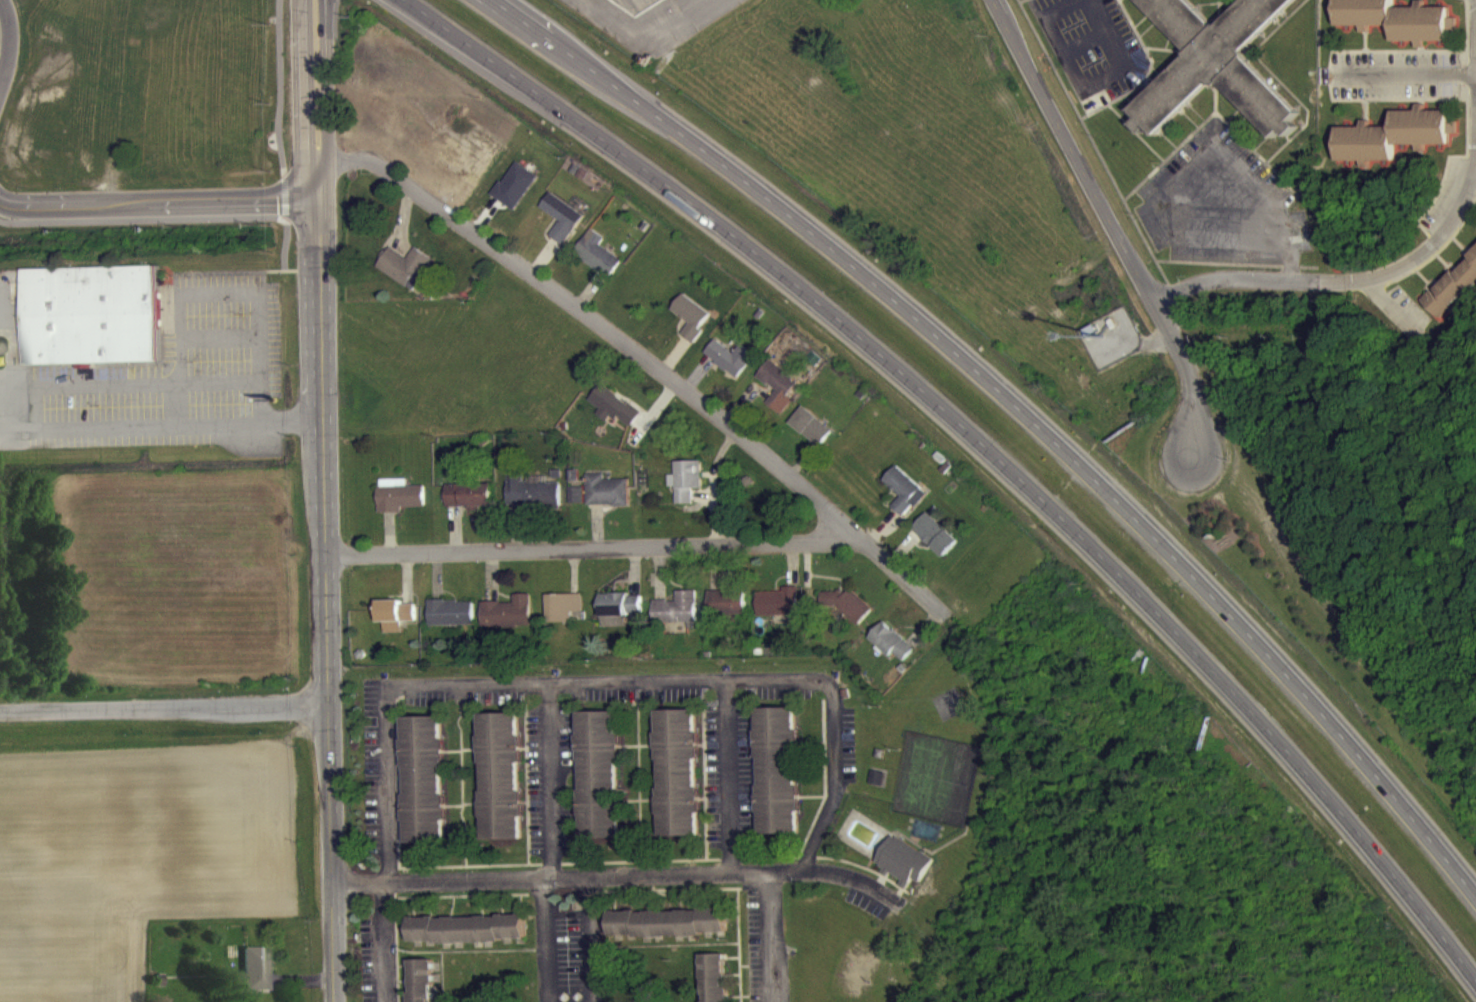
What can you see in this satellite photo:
road: (1475, 2)
building: (1393, 27)
road: (12, 47)
building: (1216, 69)
road: (1413, 75)
road: (1084, 86)
road: (280, 87)
road: (315, 100)
building: (1393, 146)
road: (284, 194)
building: (515, 196)
road: (157, 203)
road: (1269, 206)
road: (284, 217)
road: (1113, 218)
road: (150, 219)
road: (7, 223)
building: (561, 228)
road: (284, 244)
building: (597, 264)
road: (1355, 274)
building: (405, 276)
road: (887, 291)
road: (216, 292)
building: (1453, 297)
road: (825, 307)
building: (91, 325)
building: (690, 326)
road: (218, 335)
road: (645, 359)
building: (729, 368)
building: (778, 396)
road: (175, 399)
road: (9, 416)
building: (613, 416)
road: (4, 426)
building: (810, 436)
building: (685, 490)
building: (605, 501)
building: (903, 501)
building: (532, 503)
building: (468, 505)
building: (575, 505)
building: (398, 506)
building: (935, 545)
road: (594, 548)
road: (325, 600)
building: (726, 612)
building: (777, 612)
building: (563, 618)
building: (617, 619)
building: (676, 619)
building: (451, 623)
building: (507, 623)
building: (394, 625)
building: (891, 652)
road: (519, 685)
road: (164, 709)
road: (1365, 754)
road: (730, 777)
building: (777, 781)
road: (553, 782)
building: (677, 783)
building: (599, 785)
building: (501, 787)
building: (877, 788)
road: (838, 789)
building: (424, 790)
road: (1346, 816)
building: (902, 872)
road: (620, 876)
building: (668, 933)
road: (767, 937)
building: (467, 939)
road: (591, 939)
road: (546, 940)
road: (387, 943)
building: (250, 981)
building: (714, 983)
building: (421, 986)

